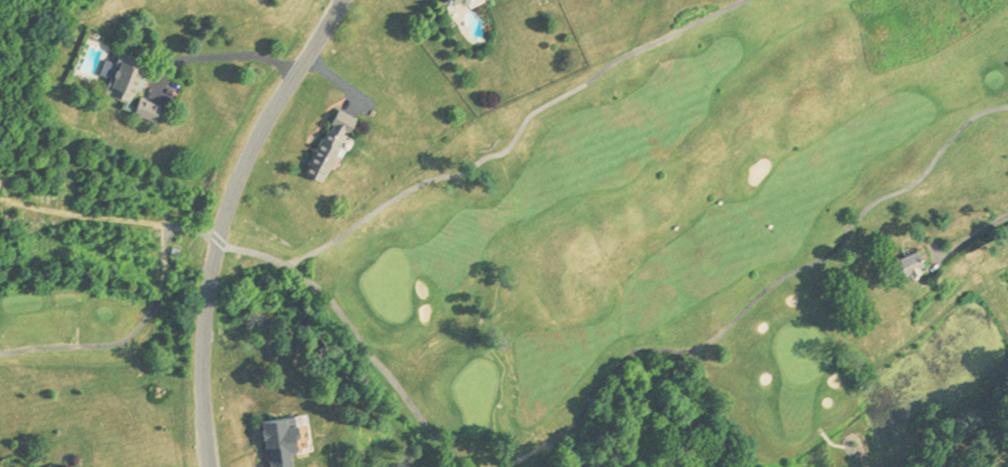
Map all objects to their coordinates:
building: (455, 2)
road: (223, 54)
building: (119, 79)
building: (145, 113)
building: (331, 142)
road: (219, 218)
park: (82, 232)
road: (976, 232)
park: (660, 240)
building: (912, 263)
building: (284, 441)
building: (69, 466)

